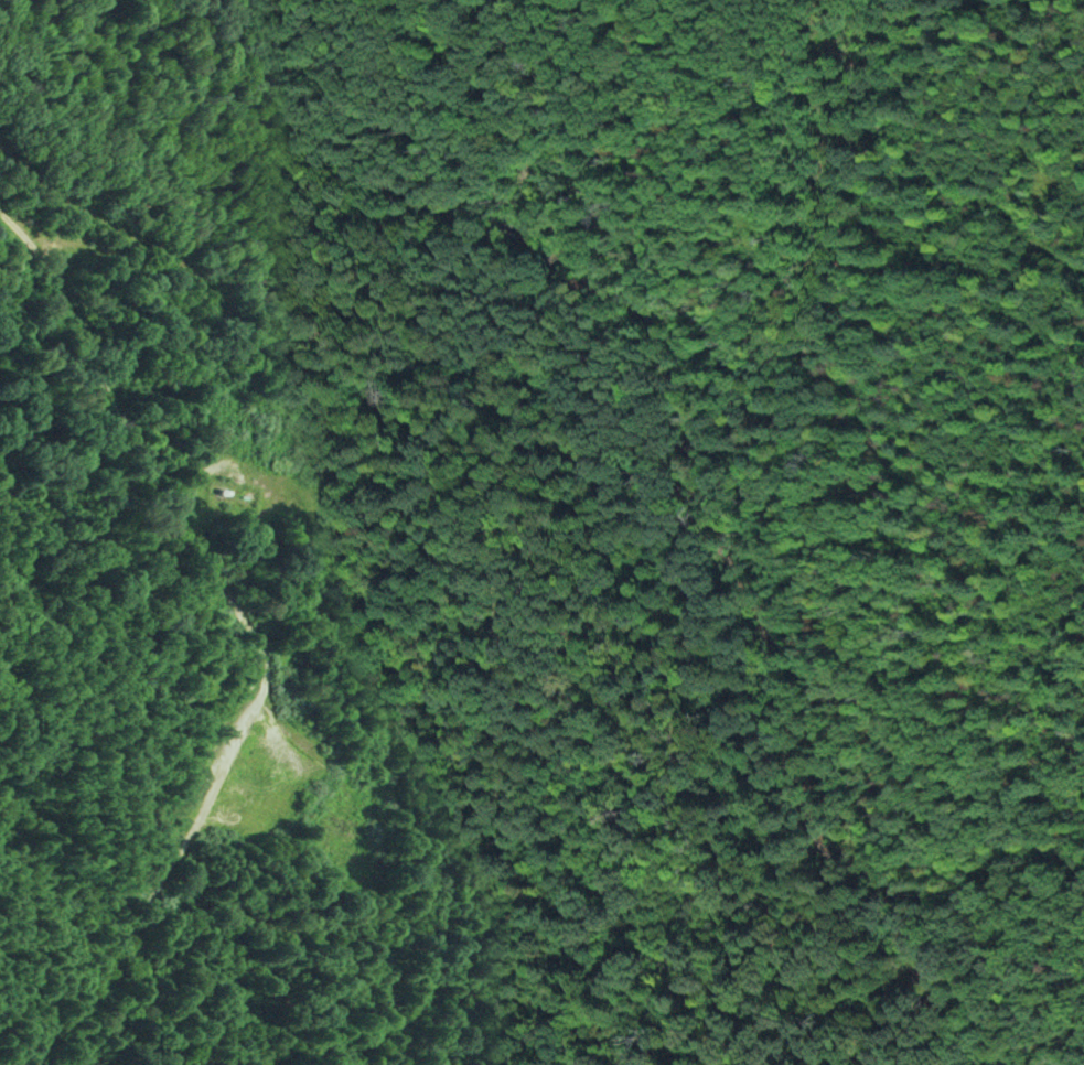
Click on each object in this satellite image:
road: (126, 632)

